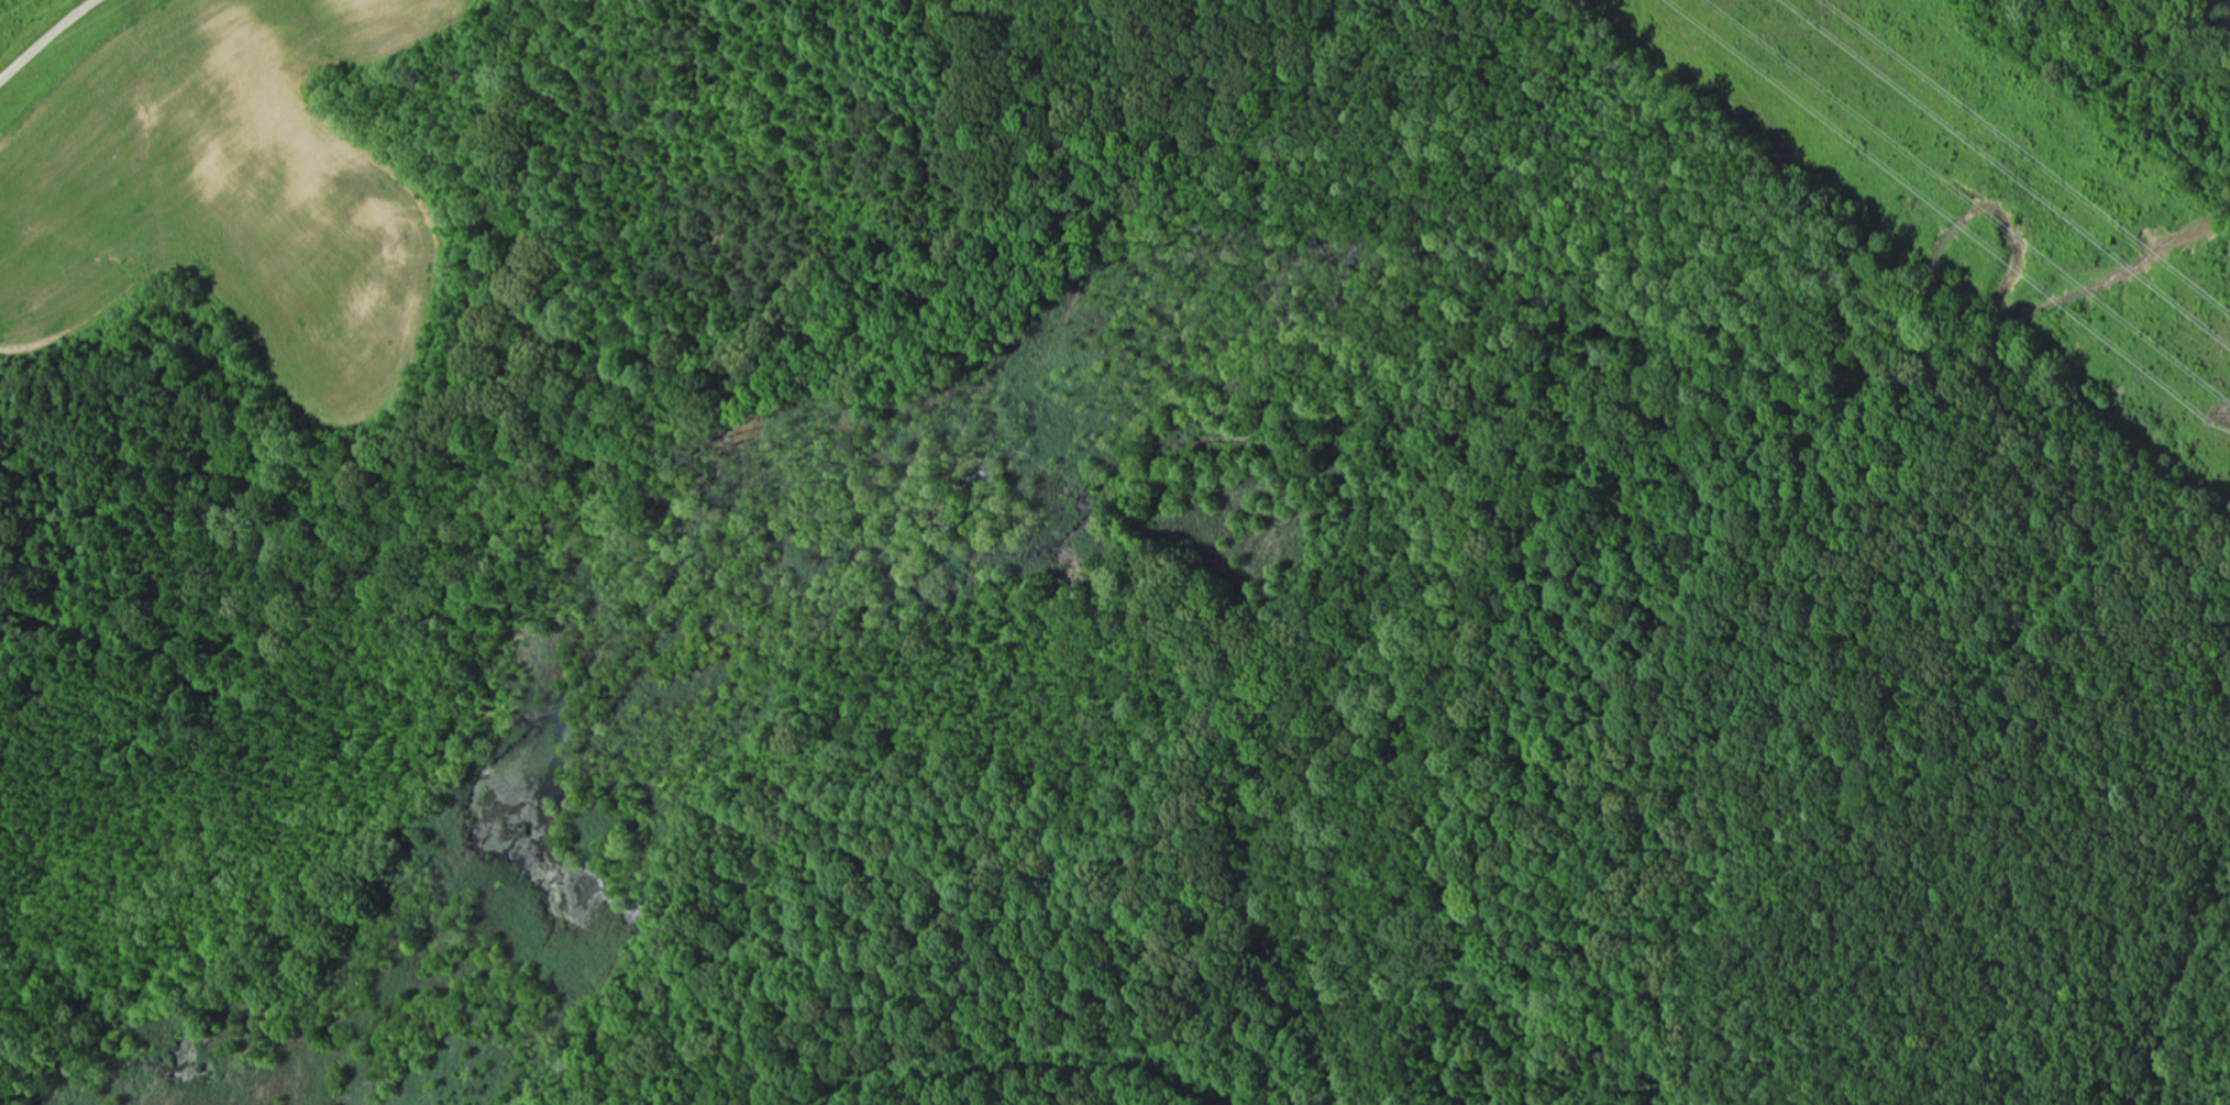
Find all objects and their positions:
power tower: (2228, 412)

